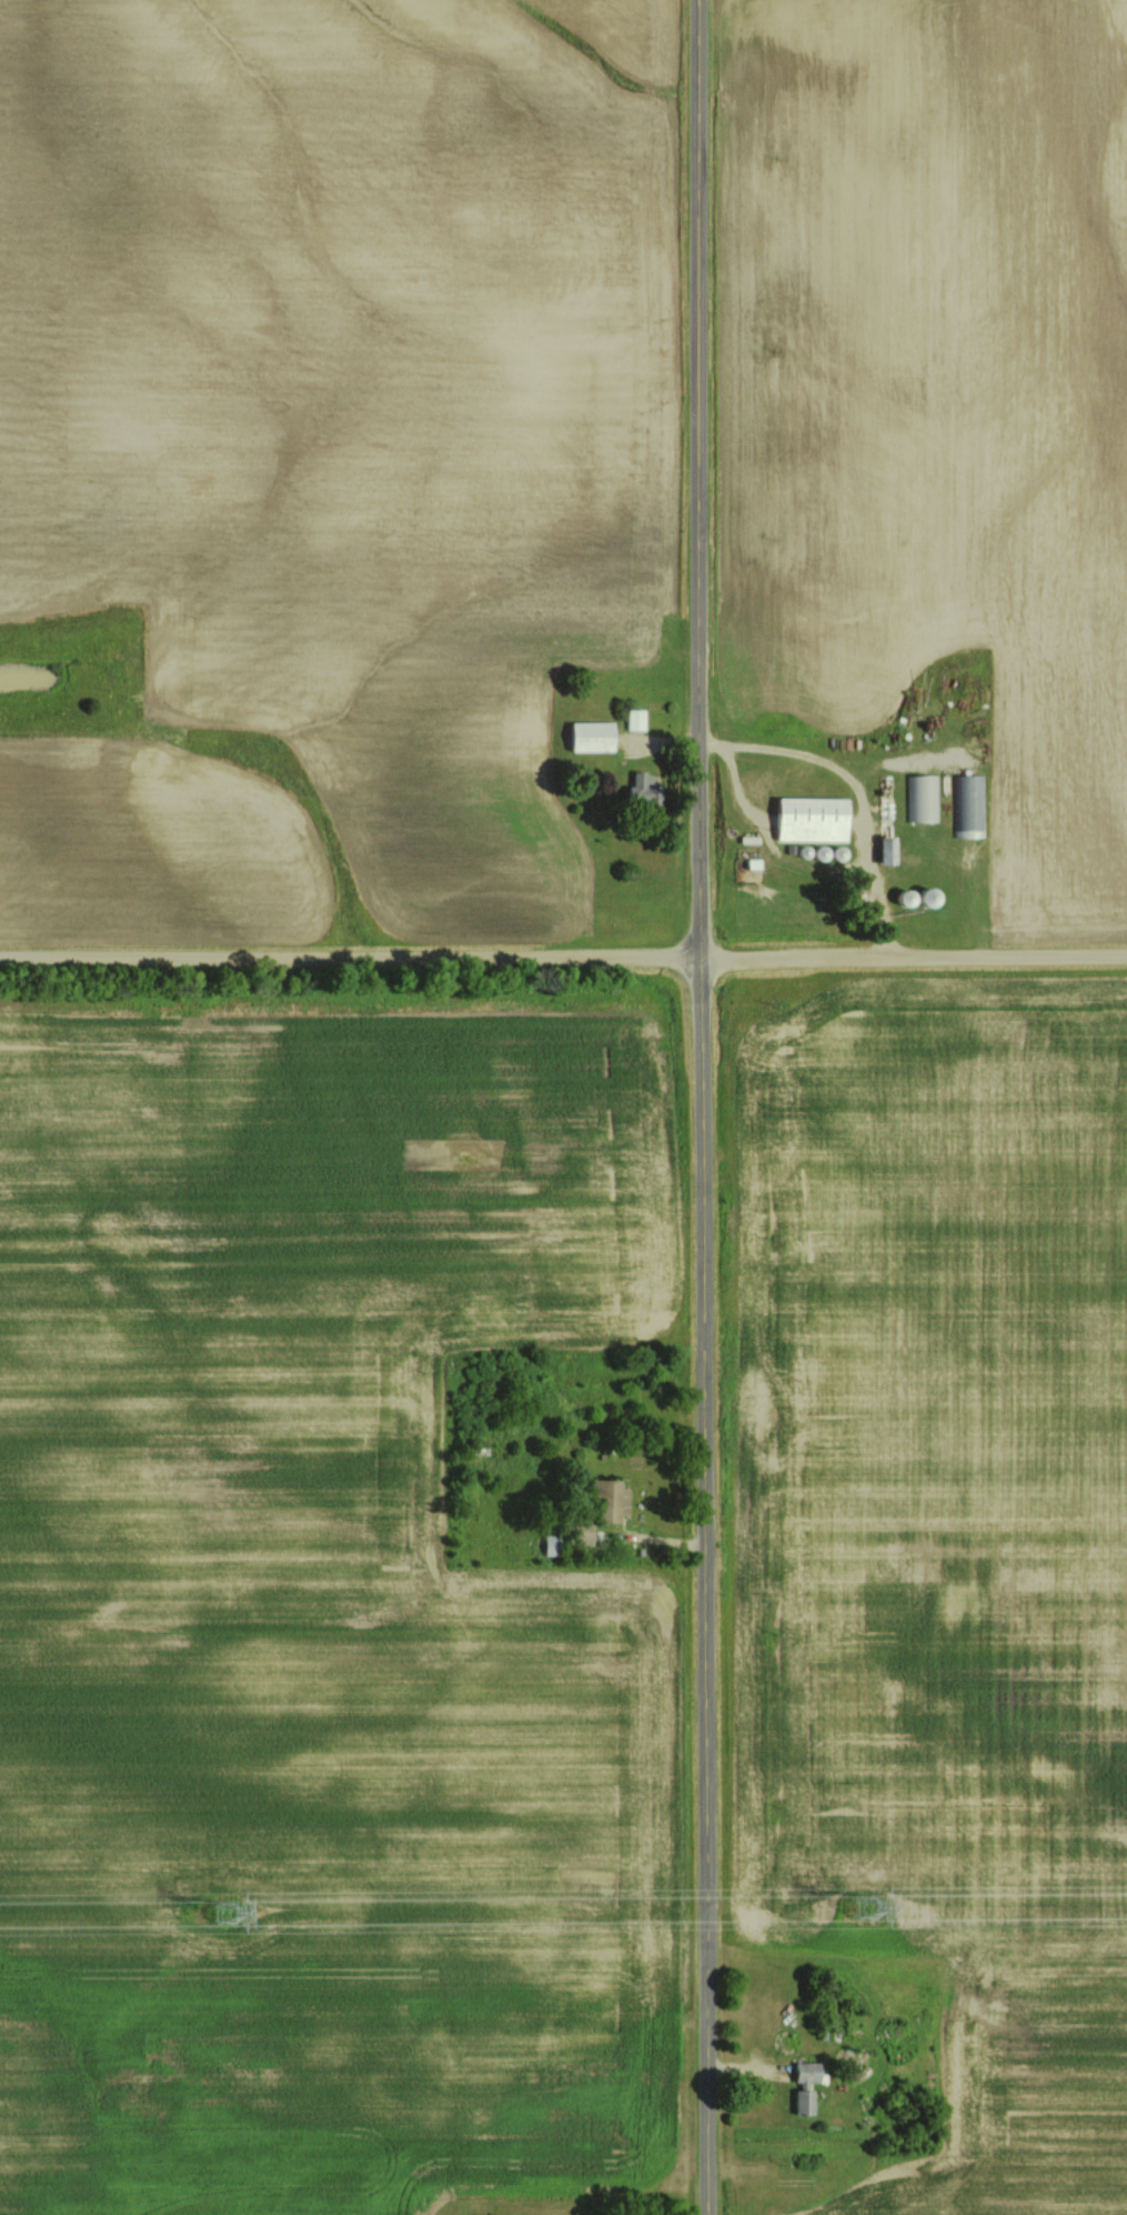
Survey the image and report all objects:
building: (636, 719)
building: (595, 736)
building: (640, 785)
road: (849, 788)
building: (923, 796)
building: (815, 819)
road: (563, 960)
road: (694, 1107)
building: (612, 1496)
building: (552, 1544)
power tower: (863, 1906)
power tower: (227, 1913)

